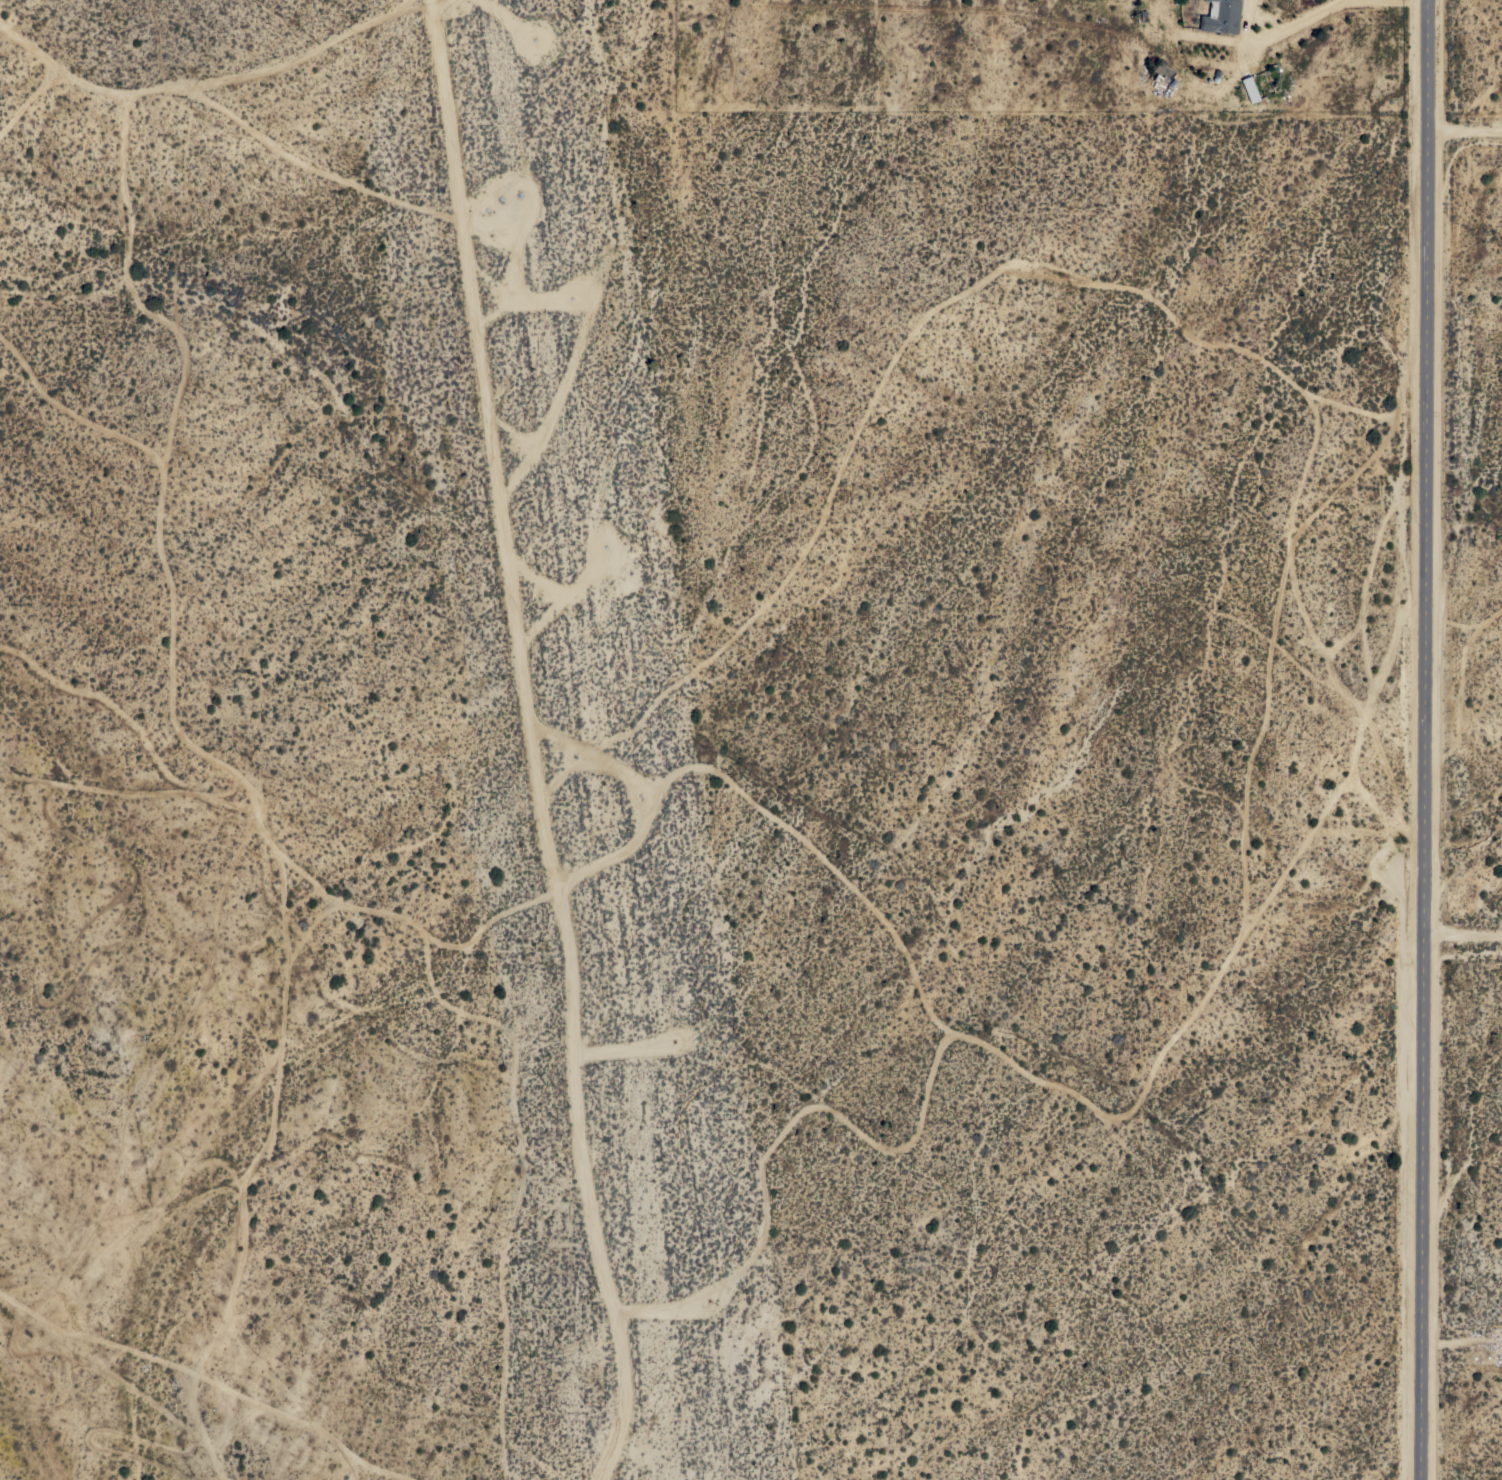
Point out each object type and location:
road: (1320, 12)
building: (1221, 16)
building: (1250, 88)
road: (1465, 137)
road: (1425, 740)
road: (529, 744)
road: (1463, 937)
road: (1462, 1347)

